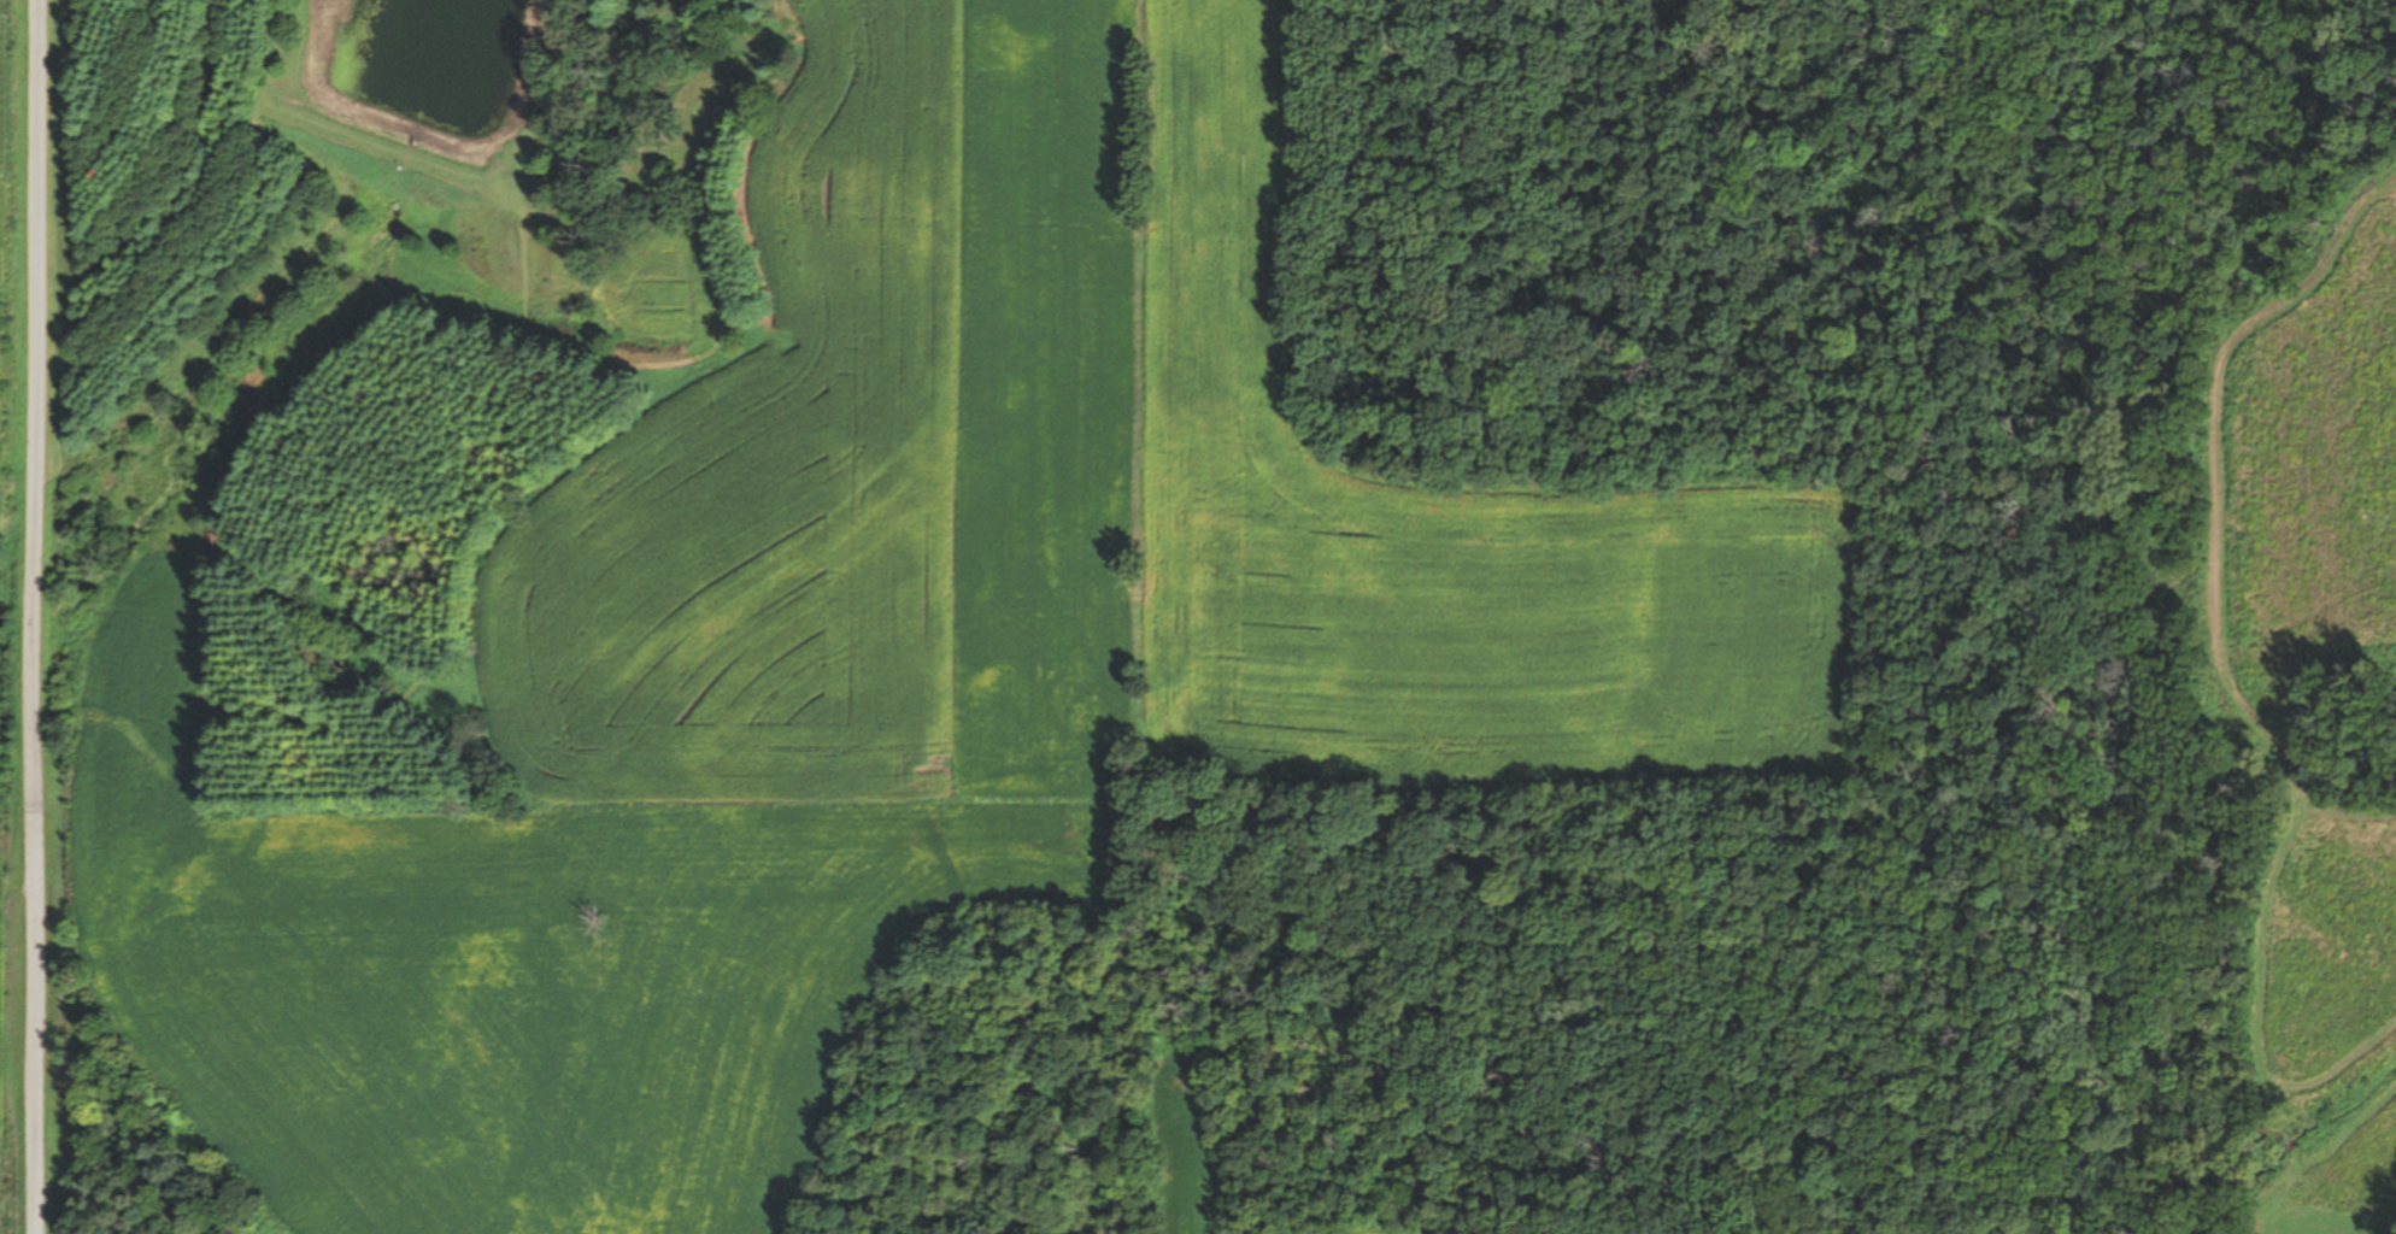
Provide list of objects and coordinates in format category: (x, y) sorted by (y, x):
road: (33, 616)

